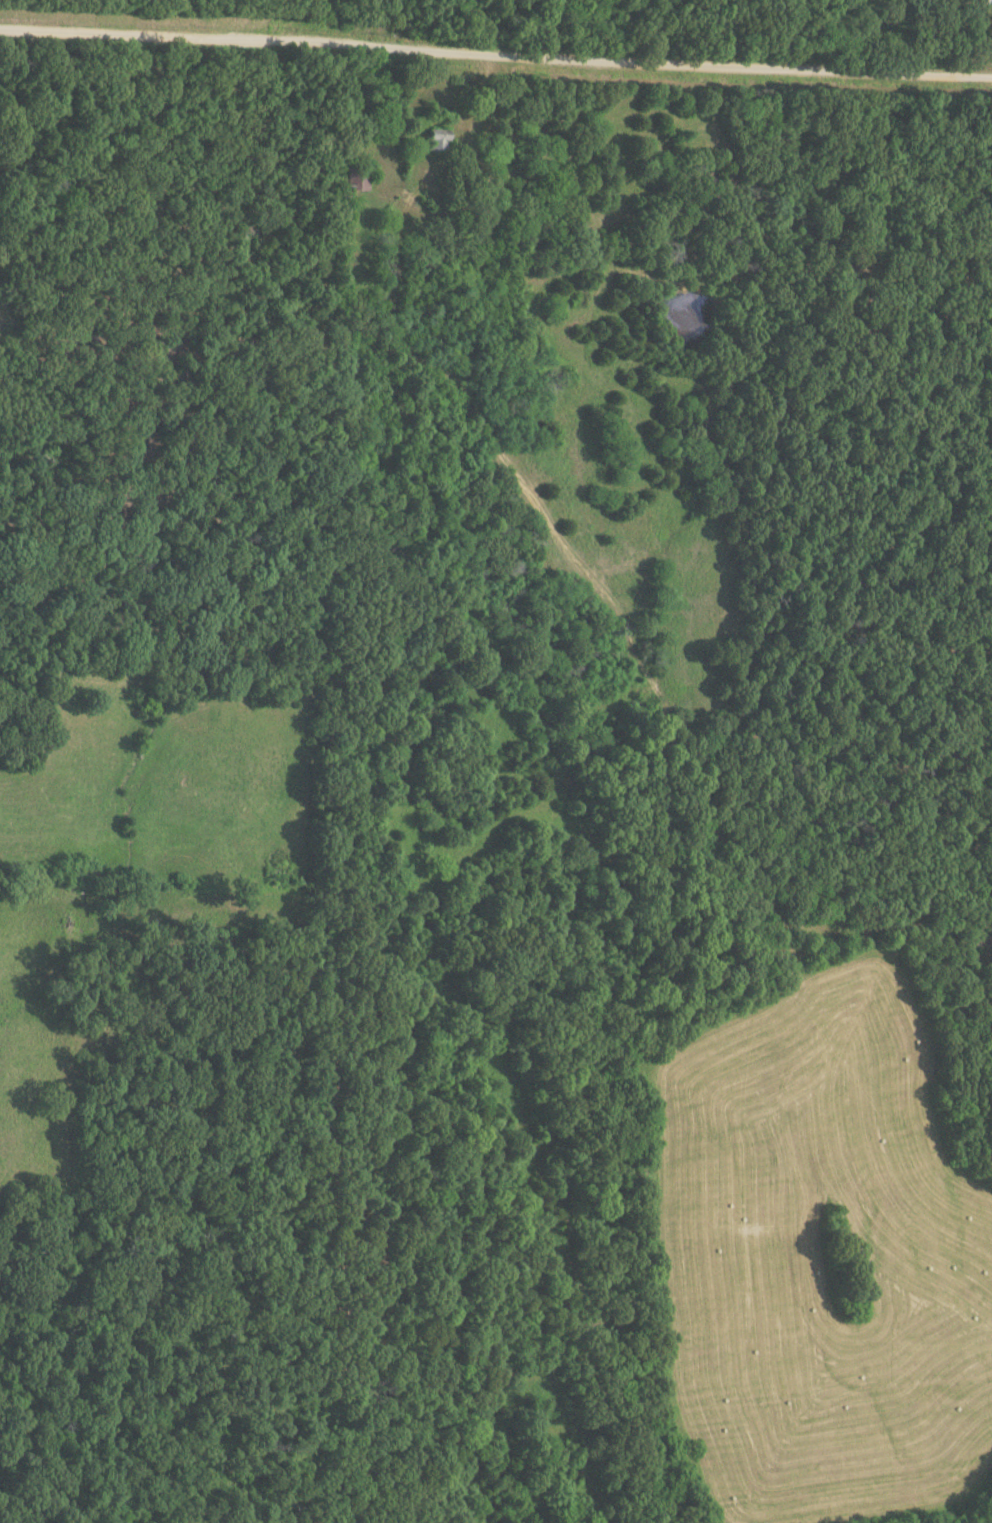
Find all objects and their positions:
building: (989, 3)
road: (495, 60)
building: (434, 139)

